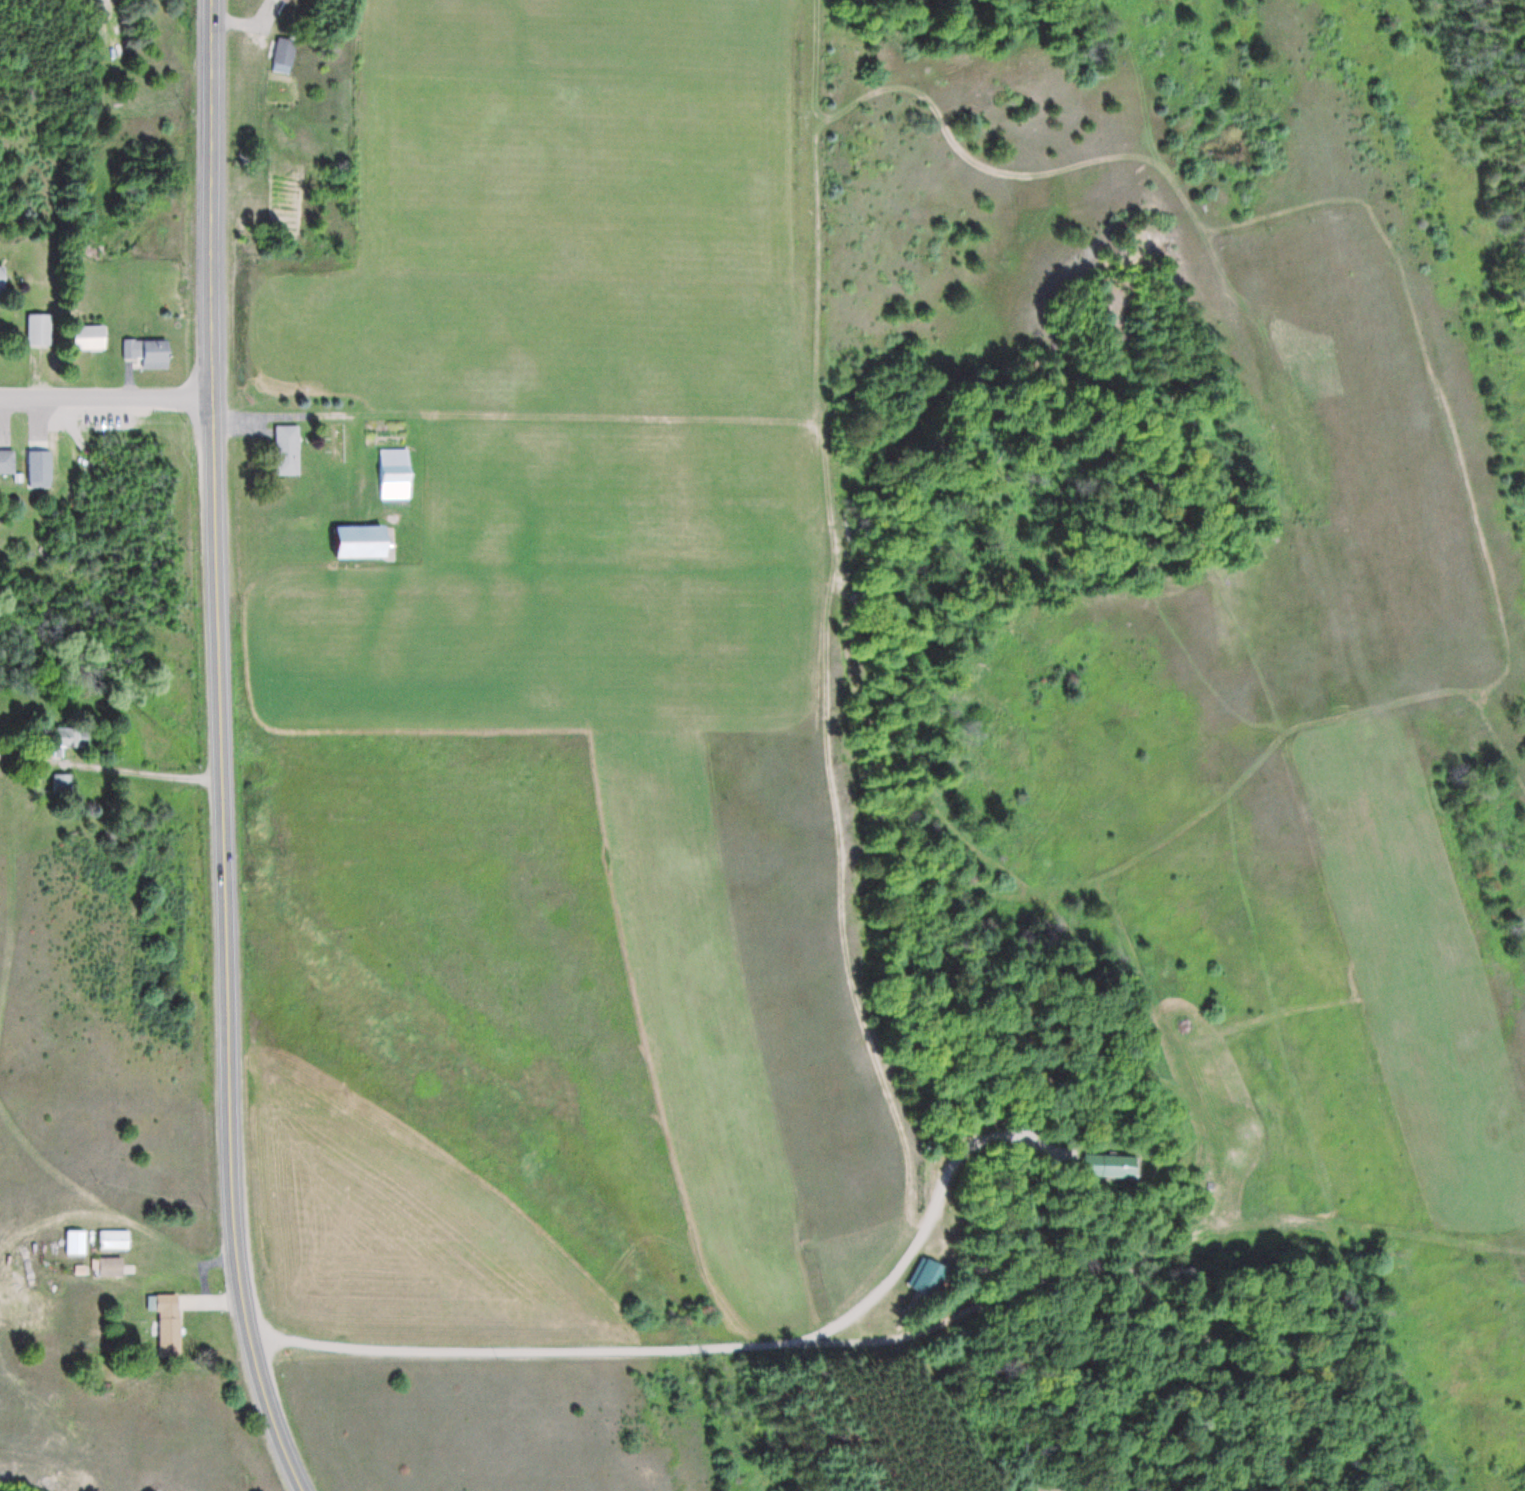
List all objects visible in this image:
building: (287, 1)
building: (285, 56)
building: (3, 280)
building: (39, 331)
building: (91, 338)
building: (149, 354)
road: (107, 402)
building: (286, 450)
building: (7, 461)
building: (39, 466)
building: (394, 474)
building: (365, 542)
building: (69, 739)
road: (221, 750)
building: (62, 783)
building: (1114, 1166)
building: (114, 1240)
building: (76, 1243)
building: (108, 1267)
building: (928, 1277)
building: (168, 1326)
road: (711, 1349)

